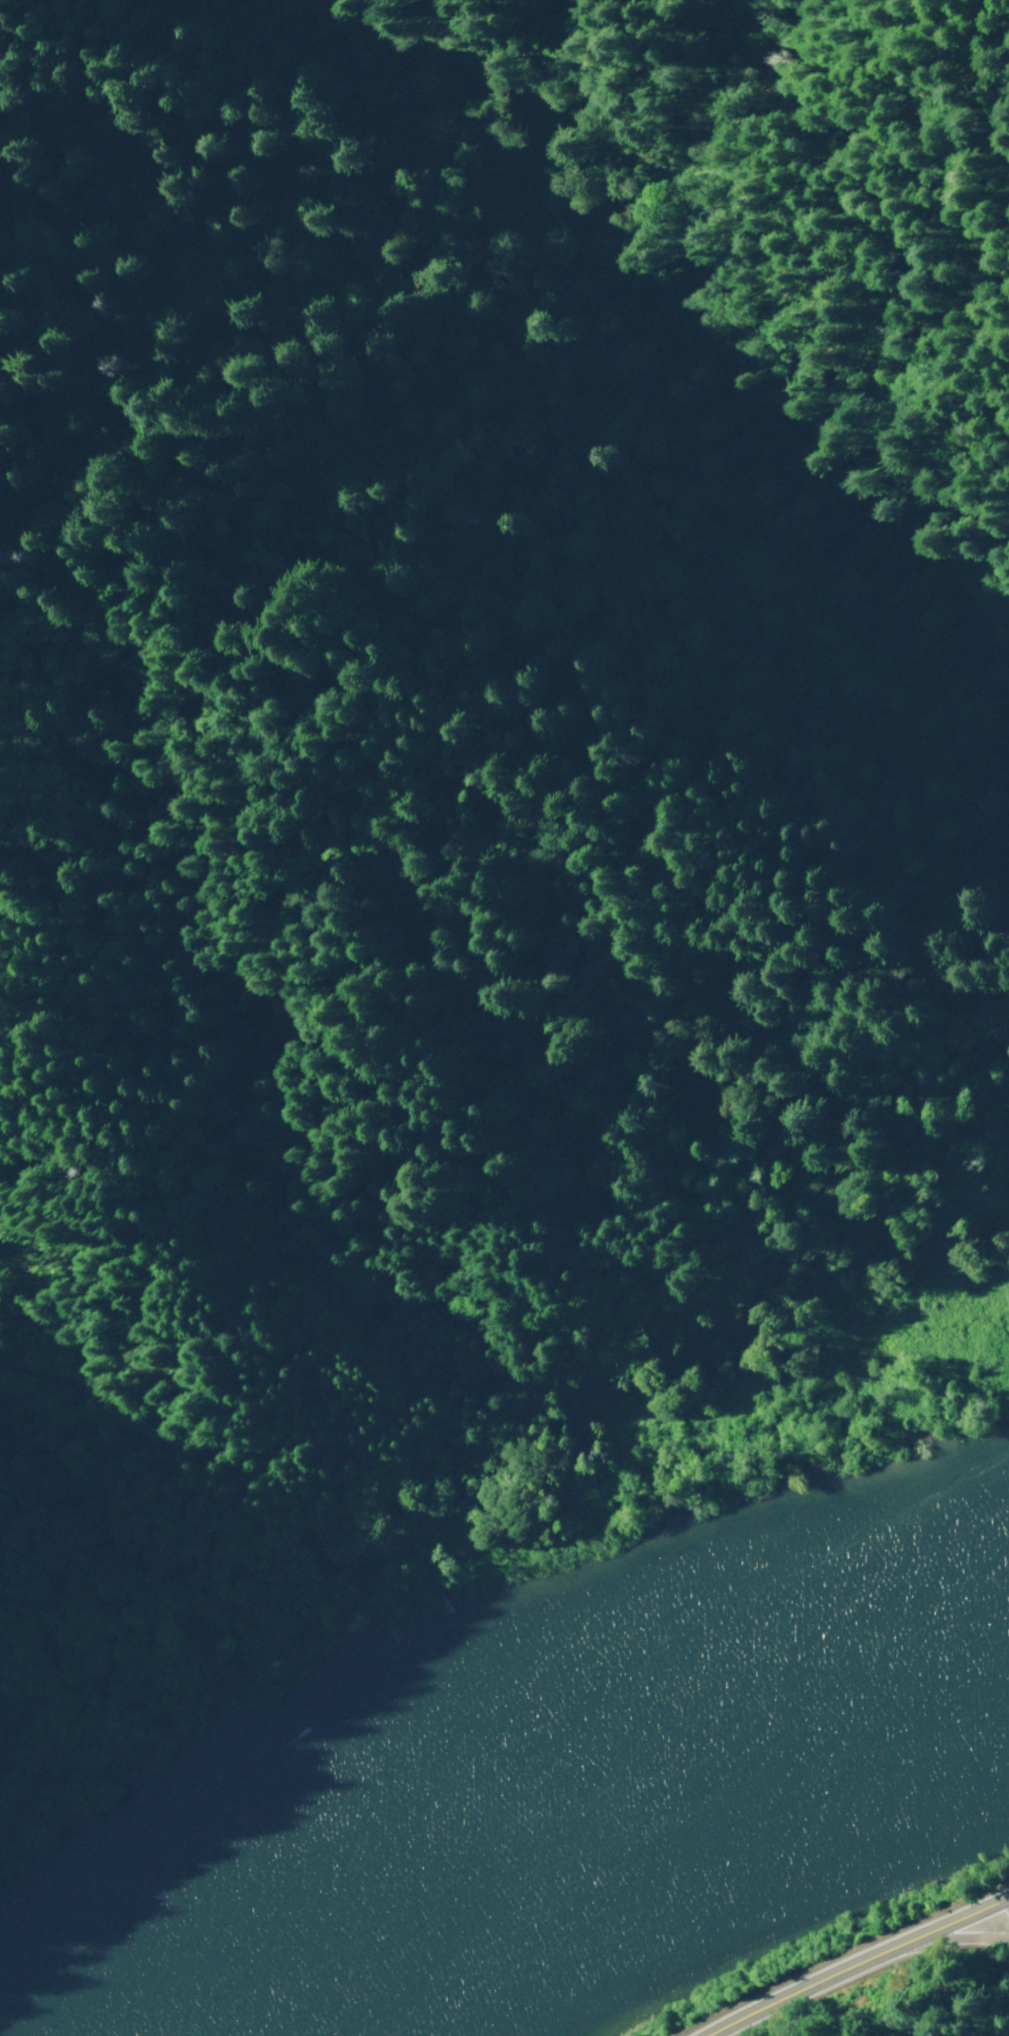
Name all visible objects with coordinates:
river: (622, 1805)
road: (854, 1957)

